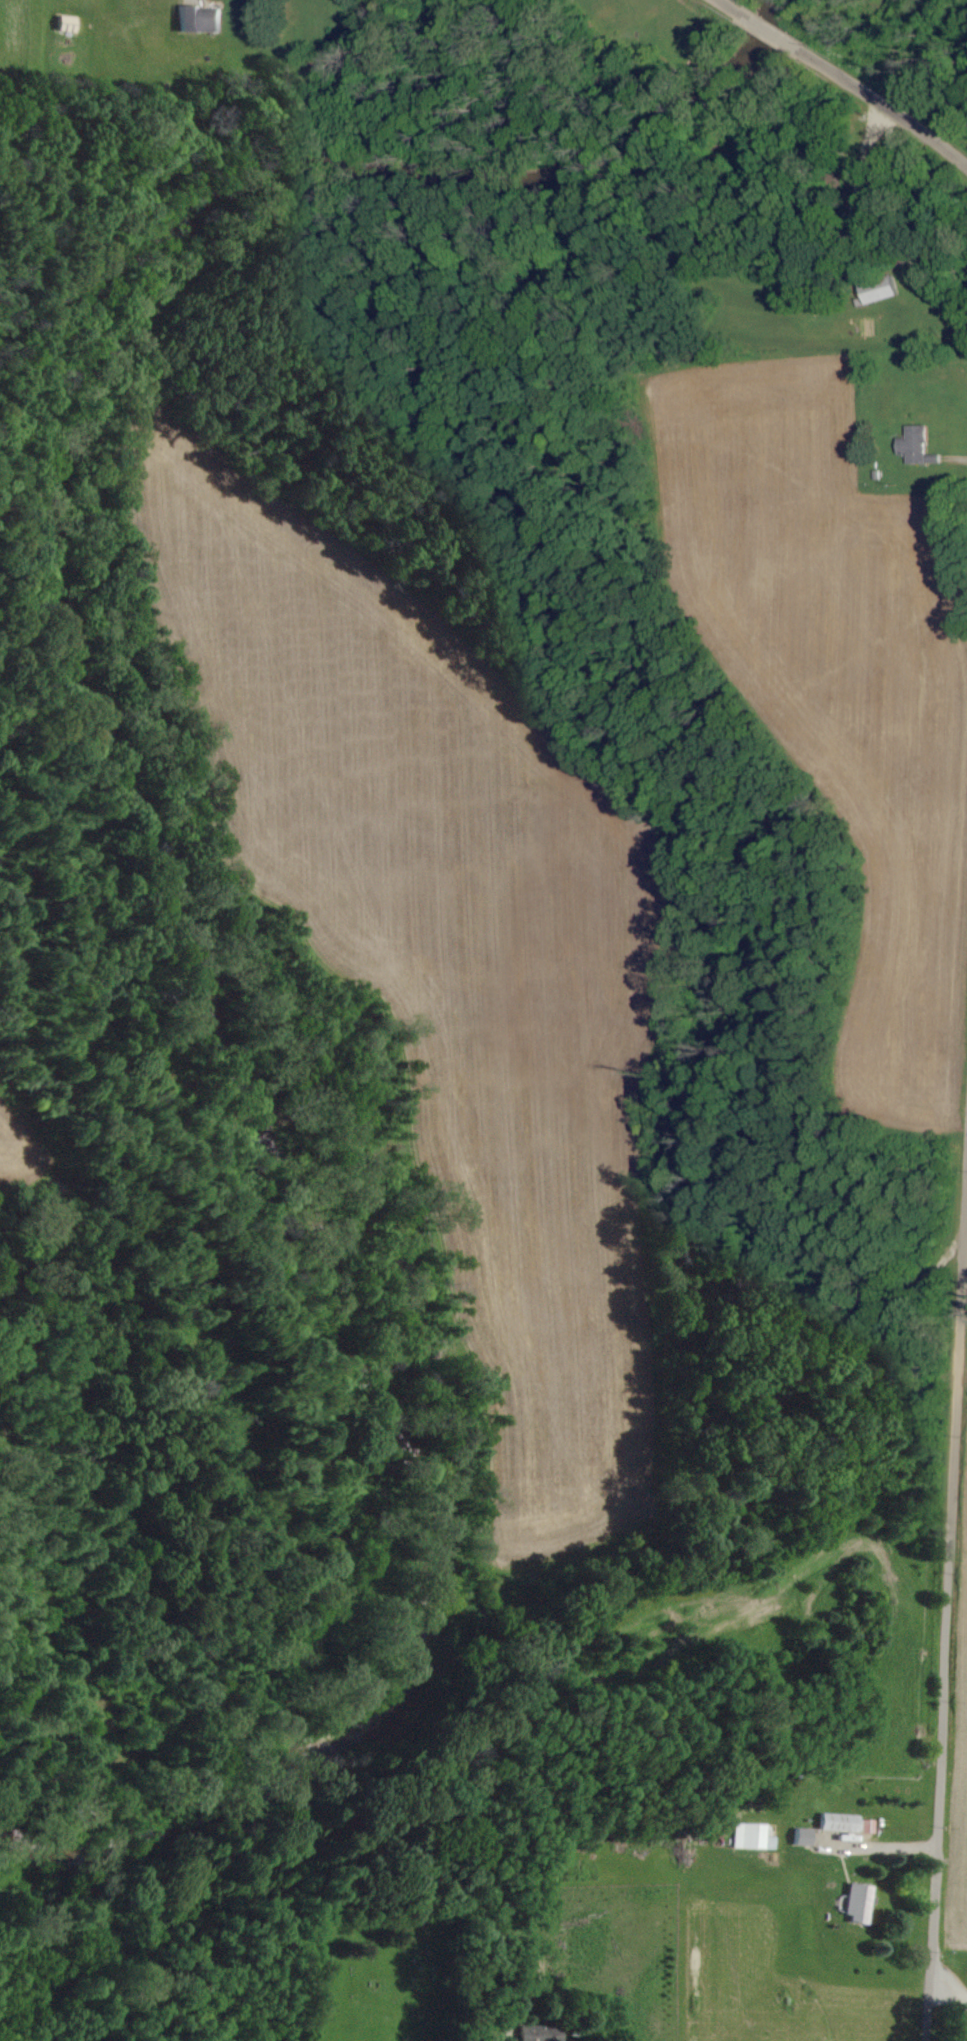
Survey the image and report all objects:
road: (730, 7)
building: (201, 20)
building: (70, 24)
road: (770, 31)
road: (885, 104)
building: (916, 445)
road: (946, 1596)
building: (847, 1824)
building: (756, 1836)
building: (807, 1837)
building: (862, 1904)

